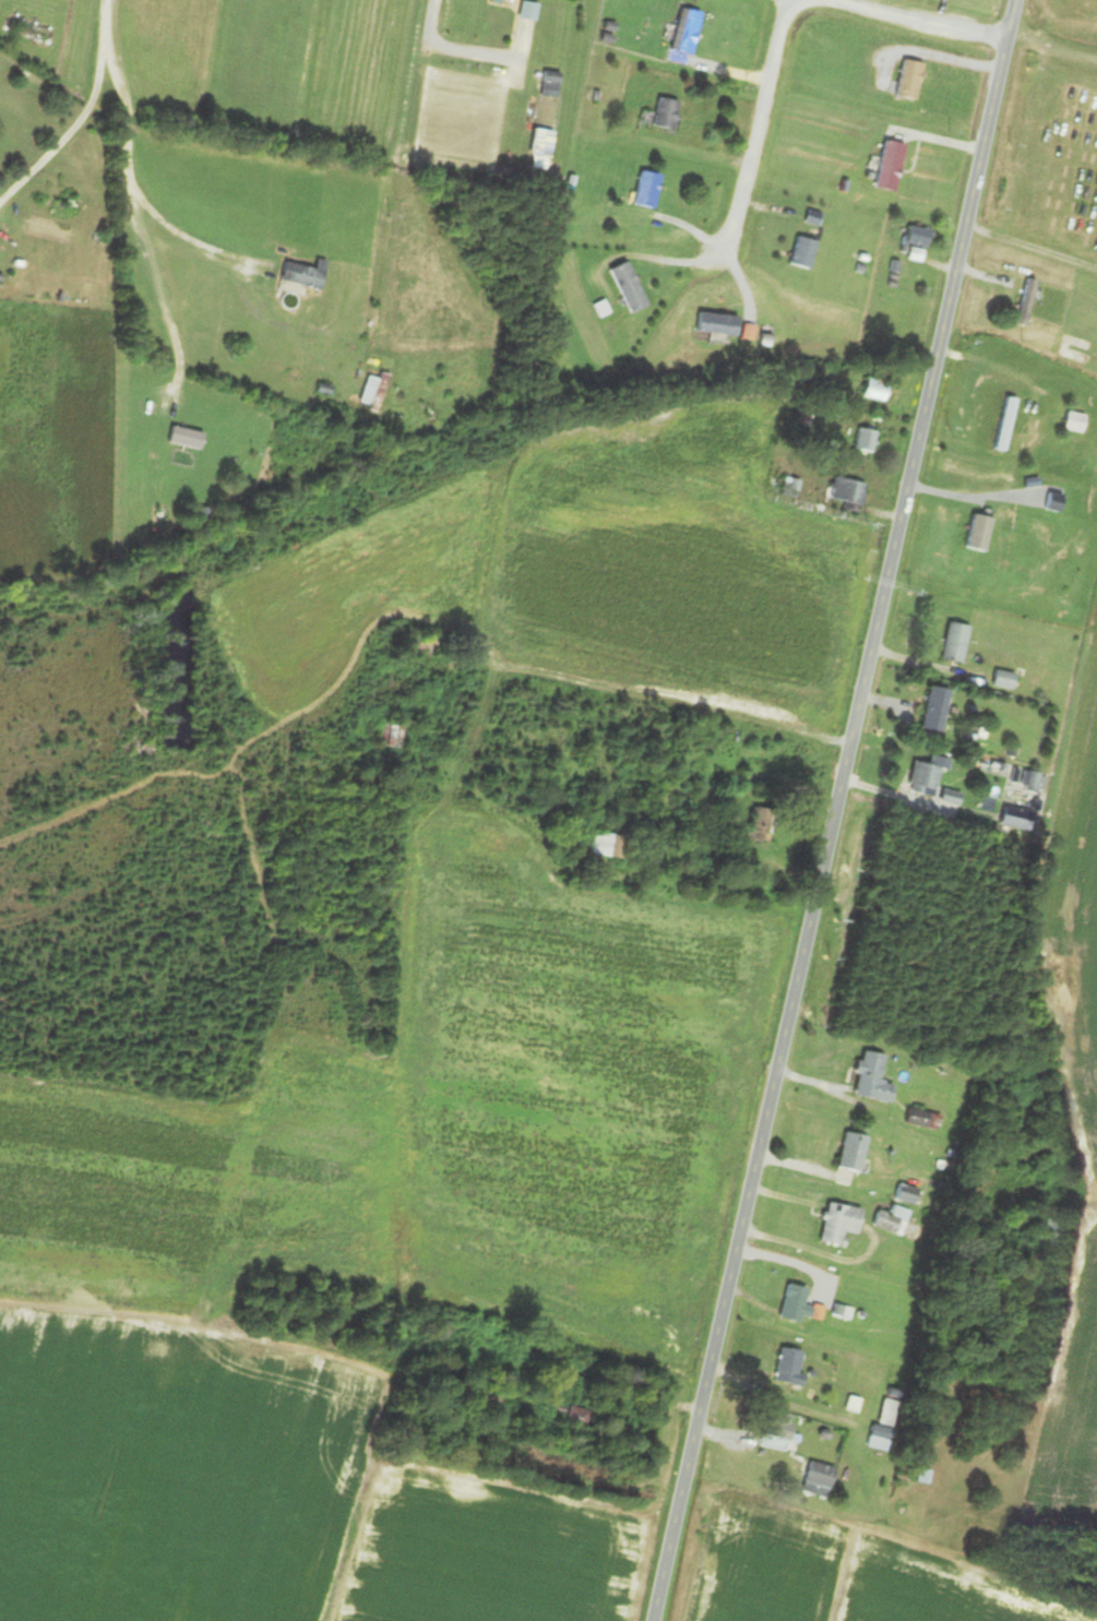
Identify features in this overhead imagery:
building: (524, 10)
road: (915, 19)
building: (682, 31)
road: (461, 53)
building: (906, 79)
building: (661, 112)
road: (756, 123)
road: (67, 134)
building: (538, 147)
building: (886, 165)
building: (644, 189)
road: (130, 202)
building: (914, 235)
road: (184, 239)
road: (1032, 245)
building: (800, 252)
building: (300, 273)
building: (624, 286)
building: (1023, 301)
building: (715, 323)
building: (872, 388)
building: (369, 392)
building: (1002, 422)
building: (862, 439)
building: (844, 490)
building: (975, 532)
building: (951, 642)
building: (1000, 679)
building: (930, 710)
building: (386, 736)
building: (918, 778)
road: (833, 810)
building: (1013, 819)
building: (753, 829)
building: (607, 846)
building: (866, 1078)
building: (914, 1119)
building: (847, 1153)
building: (889, 1220)
building: (834, 1224)
building: (1050, 1233)
building: (789, 1304)
building: (783, 1366)
building: (772, 1426)
building: (879, 1426)
building: (813, 1478)

